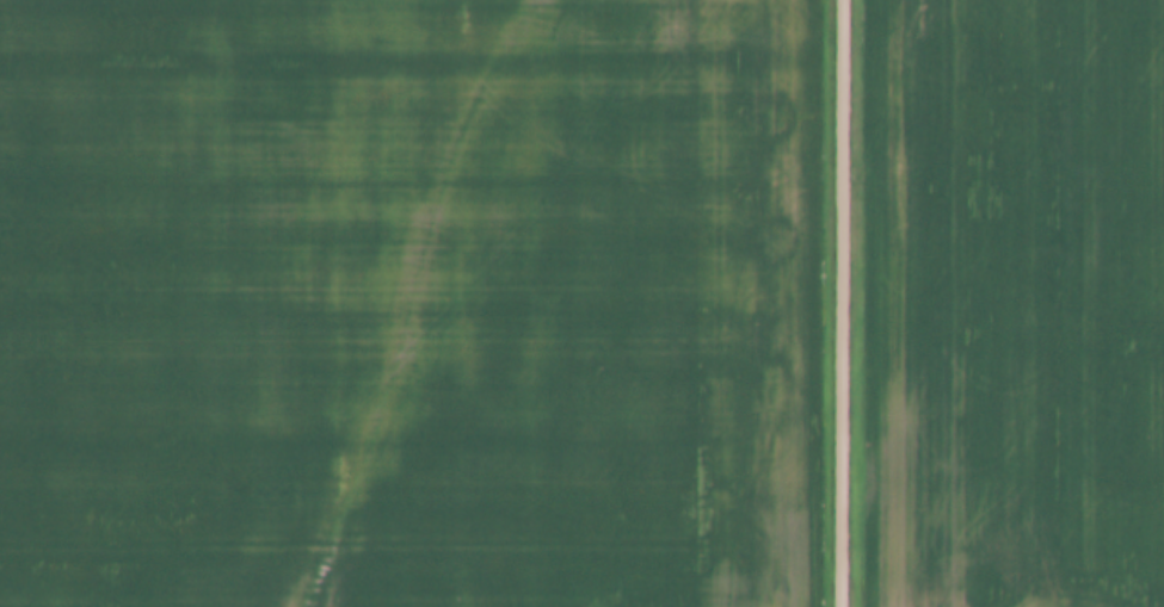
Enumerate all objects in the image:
road: (845, 303)

